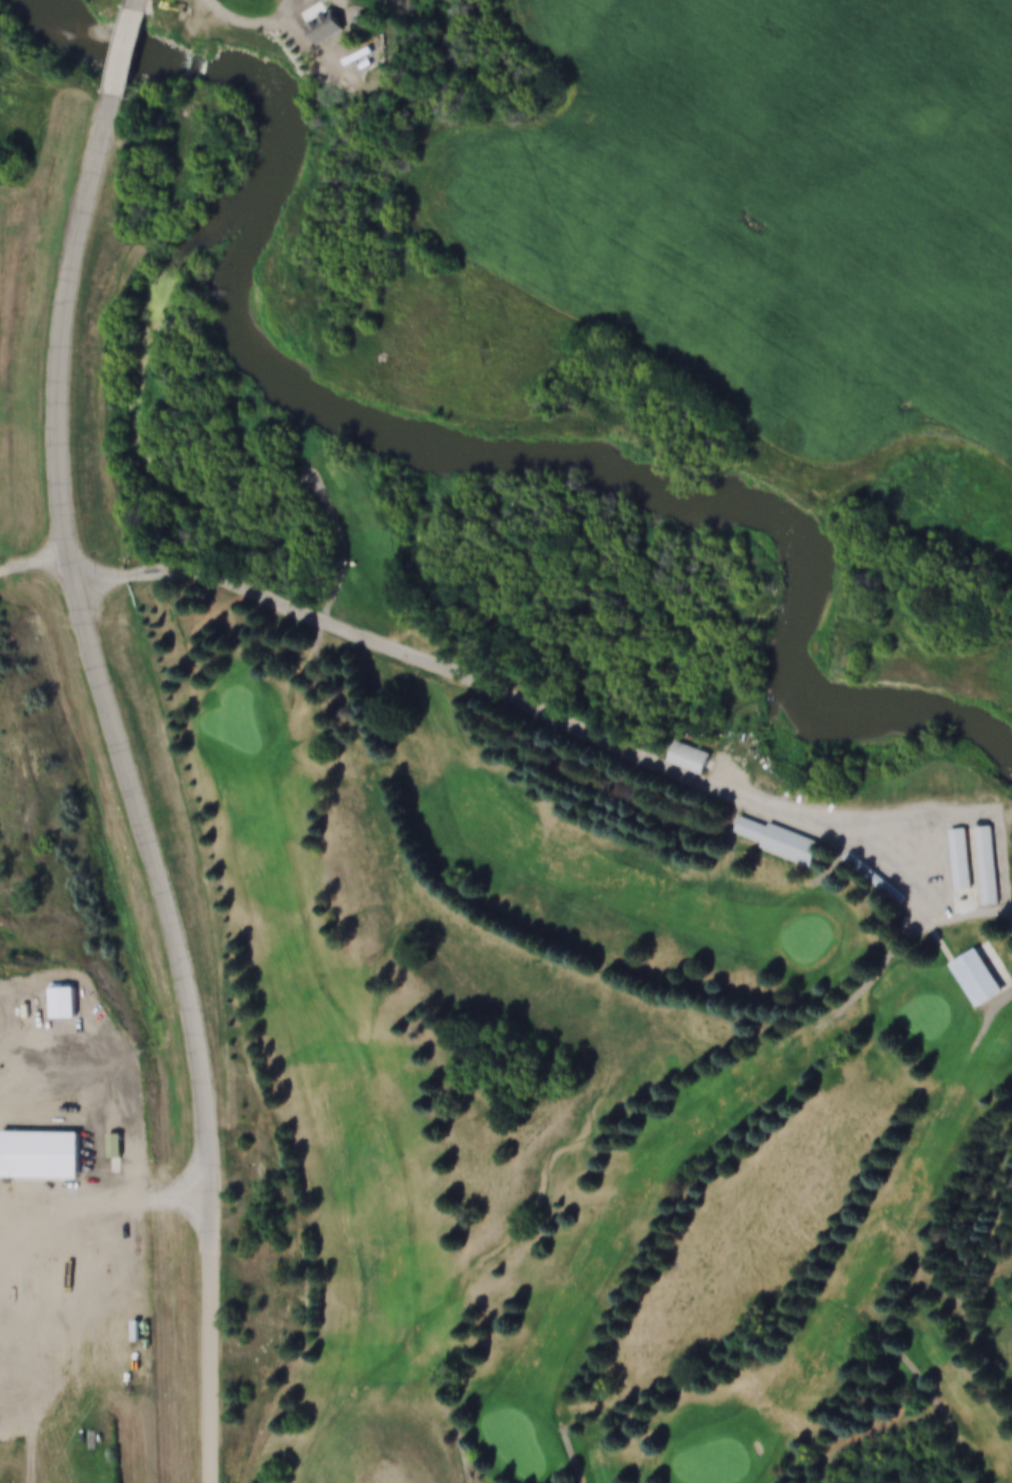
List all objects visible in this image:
road: (145, 4)
road: (264, 24)
building: (313, 27)
road: (132, 53)
river: (479, 463)
road: (43, 565)
road: (1, 569)
road: (100, 649)
road: (514, 699)
building: (678, 758)
building: (769, 840)
building: (959, 856)
building: (950, 859)
building: (986, 863)
building: (977, 865)
building: (968, 976)
building: (62, 1000)
building: (48, 1005)
park: (594, 1054)
building: (31, 1157)
road: (115, 1211)
road: (7, 1262)
building: (122, 1333)
road: (219, 1338)

